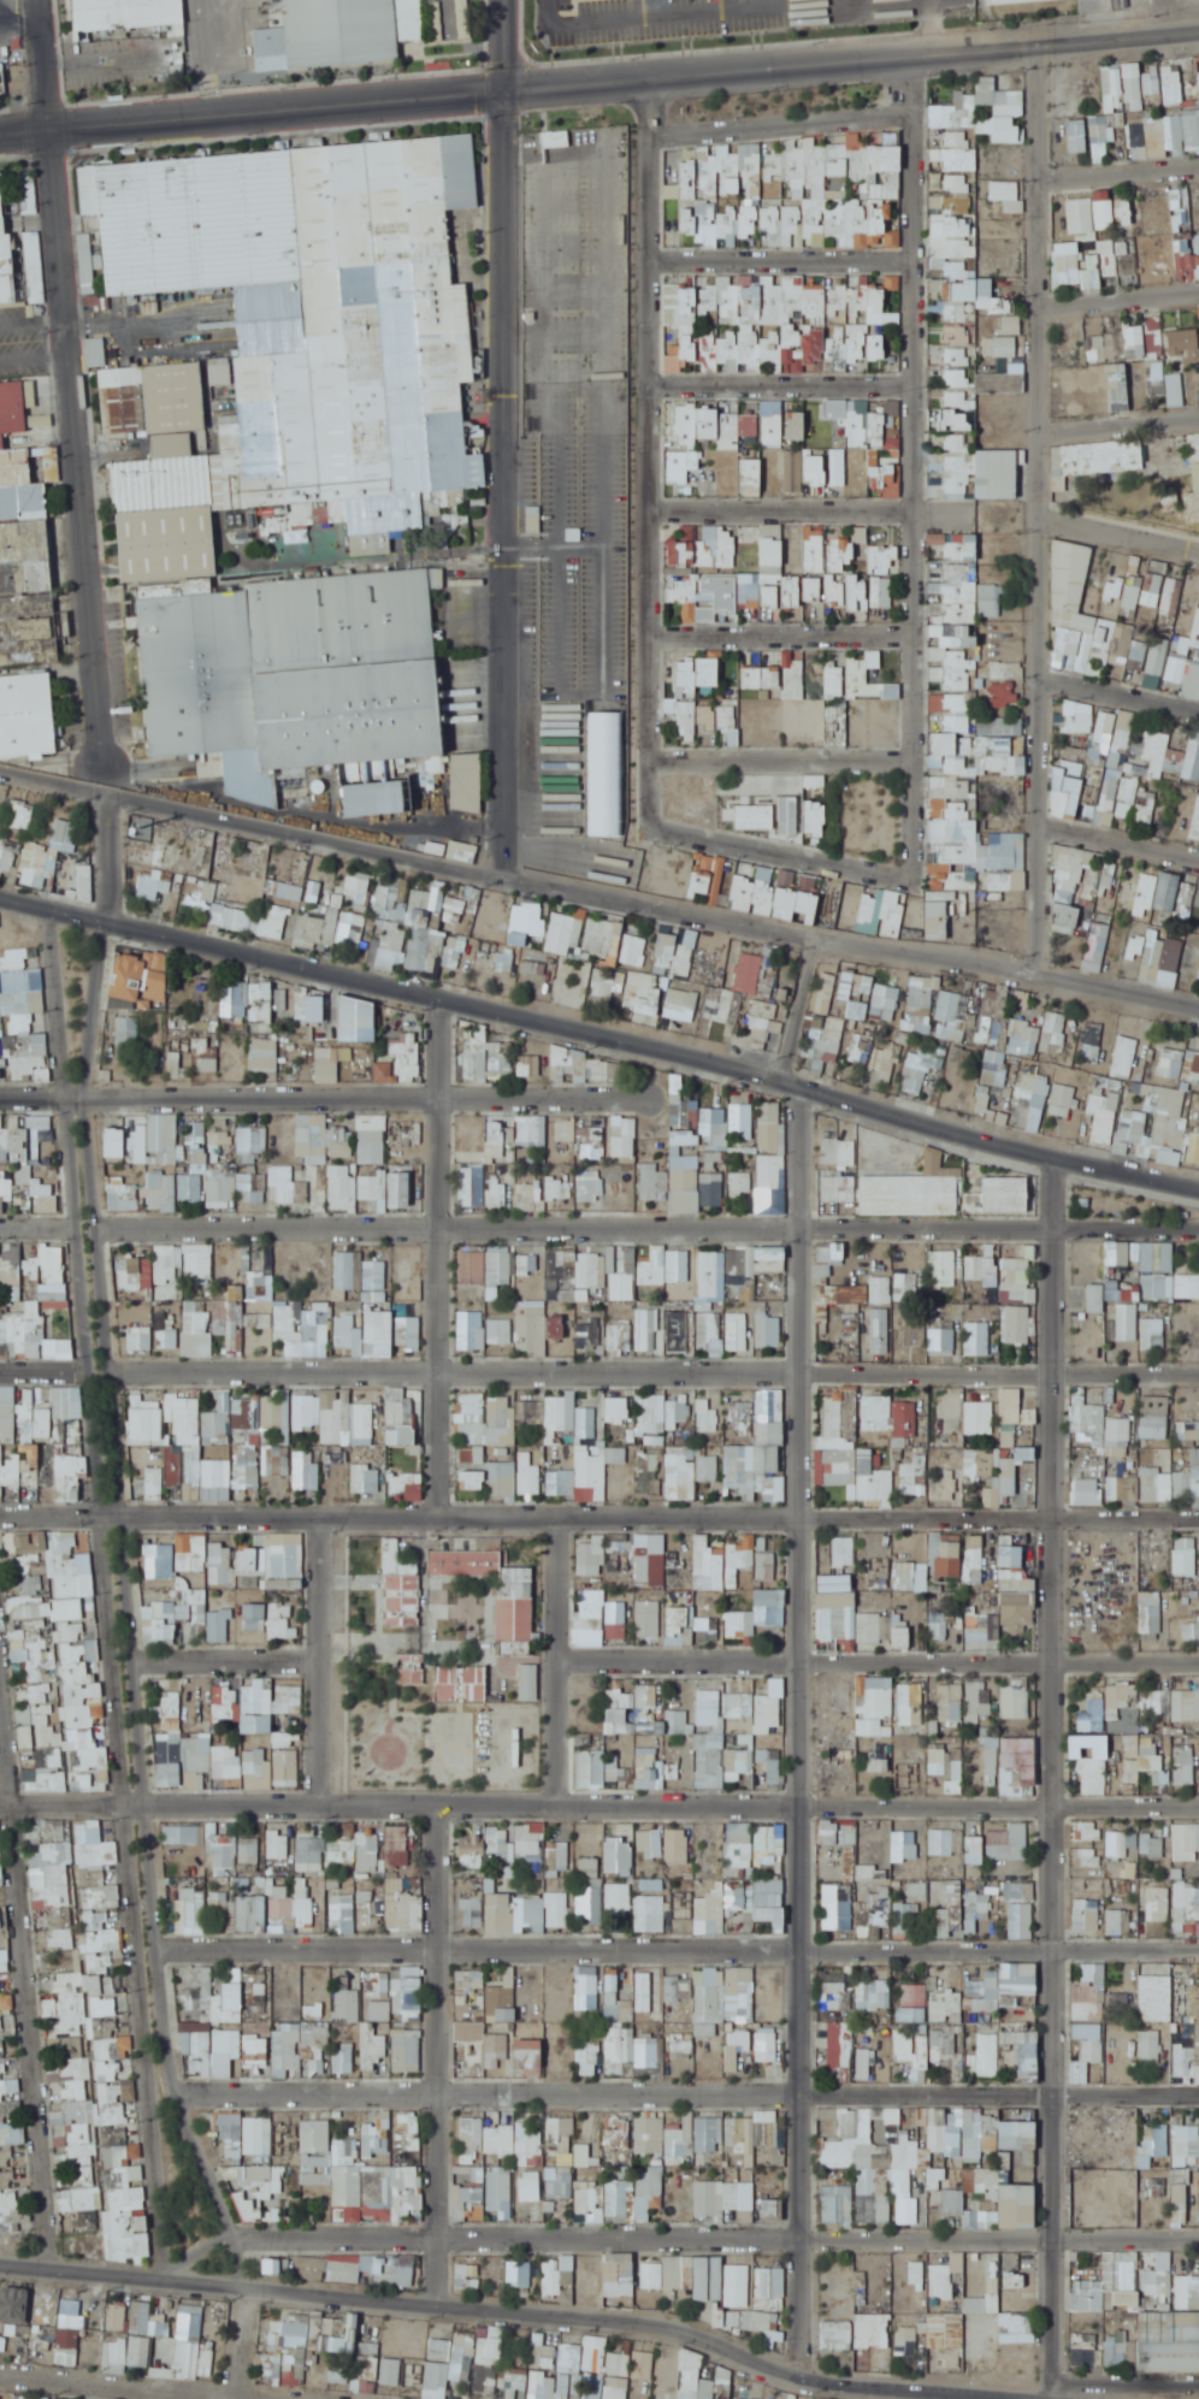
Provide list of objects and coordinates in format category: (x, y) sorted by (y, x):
building: (1005, 0)
road: (728, 7)
building: (125, 13)
road: (934, 23)
building: (347, 30)
road: (1116, 33)
building: (2, 78)
road: (541, 78)
building: (1192, 79)
building: (1123, 82)
building: (1171, 84)
road: (778, 122)
building: (958, 123)
building: (1008, 125)
road: (25, 126)
building: (1076, 128)
building: (1099, 128)
building: (1189, 131)
building: (1148, 140)
building: (955, 159)
building: (749, 160)
building: (785, 163)
road: (1116, 167)
building: (884, 171)
building: (730, 185)
building: (829, 195)
building: (953, 195)
building: (1126, 212)
building: (1091, 214)
building: (699, 215)
building: (137, 231)
building: (949, 232)
building: (1183, 236)
building: (4, 250)
road: (779, 258)
building: (1108, 261)
building: (1065, 262)
road: (1117, 294)
building: (969, 299)
building: (748, 321)
building: (1002, 325)
building: (856, 327)
building: (957, 335)
building: (1182, 343)
building: (876, 347)
building: (1003, 347)
building: (1098, 348)
building: (98, 351)
building: (1147, 351)
building: (957, 376)
road: (779, 379)
building: (1117, 379)
road: (72, 383)
building: (999, 383)
building: (323, 389)
building: (956, 400)
building: (18, 409)
building: (953, 421)
building: (707, 423)
road: (1117, 423)
building: (815, 424)
building: (749, 425)
building: (795, 426)
building: (772, 429)
building: (856, 430)
building: (882, 430)
building: (956, 439)
road: (504, 441)
building: (1193, 448)
road: (650, 449)
road: (909, 462)
building: (957, 463)
building: (813, 468)
building: (837, 469)
building: (997, 472)
building: (749, 475)
building: (884, 480)
road: (780, 503)
building: (1191, 504)
road: (1038, 514)
road: (1118, 526)
building: (13, 543)
building: (770, 549)
building: (697, 553)
building: (474, 561)
building: (1134, 569)
building: (1070, 580)
building: (845, 590)
building: (881, 593)
building: (1130, 596)
building: (1171, 596)
building: (990, 601)
road: (779, 627)
building: (295, 672)
road: (1118, 689)
building: (26, 714)
road: (779, 755)
road: (1118, 837)
road: (779, 855)
road: (107, 859)
road: (598, 902)
road: (57, 1005)
road: (798, 1017)
road: (599, 1040)
road: (219, 1100)
road: (547, 1100)
road: (649, 1223)
road: (39, 1224)
road: (438, 1260)
road: (45, 1370)
road: (655, 1373)
road: (218, 1519)
road: (817, 1523)
road: (131, 1612)
road: (321, 1660)
road: (561, 1660)
road: (112, 1690)
road: (802, 1736)
road: (1053, 1779)
road: (26, 1954)

